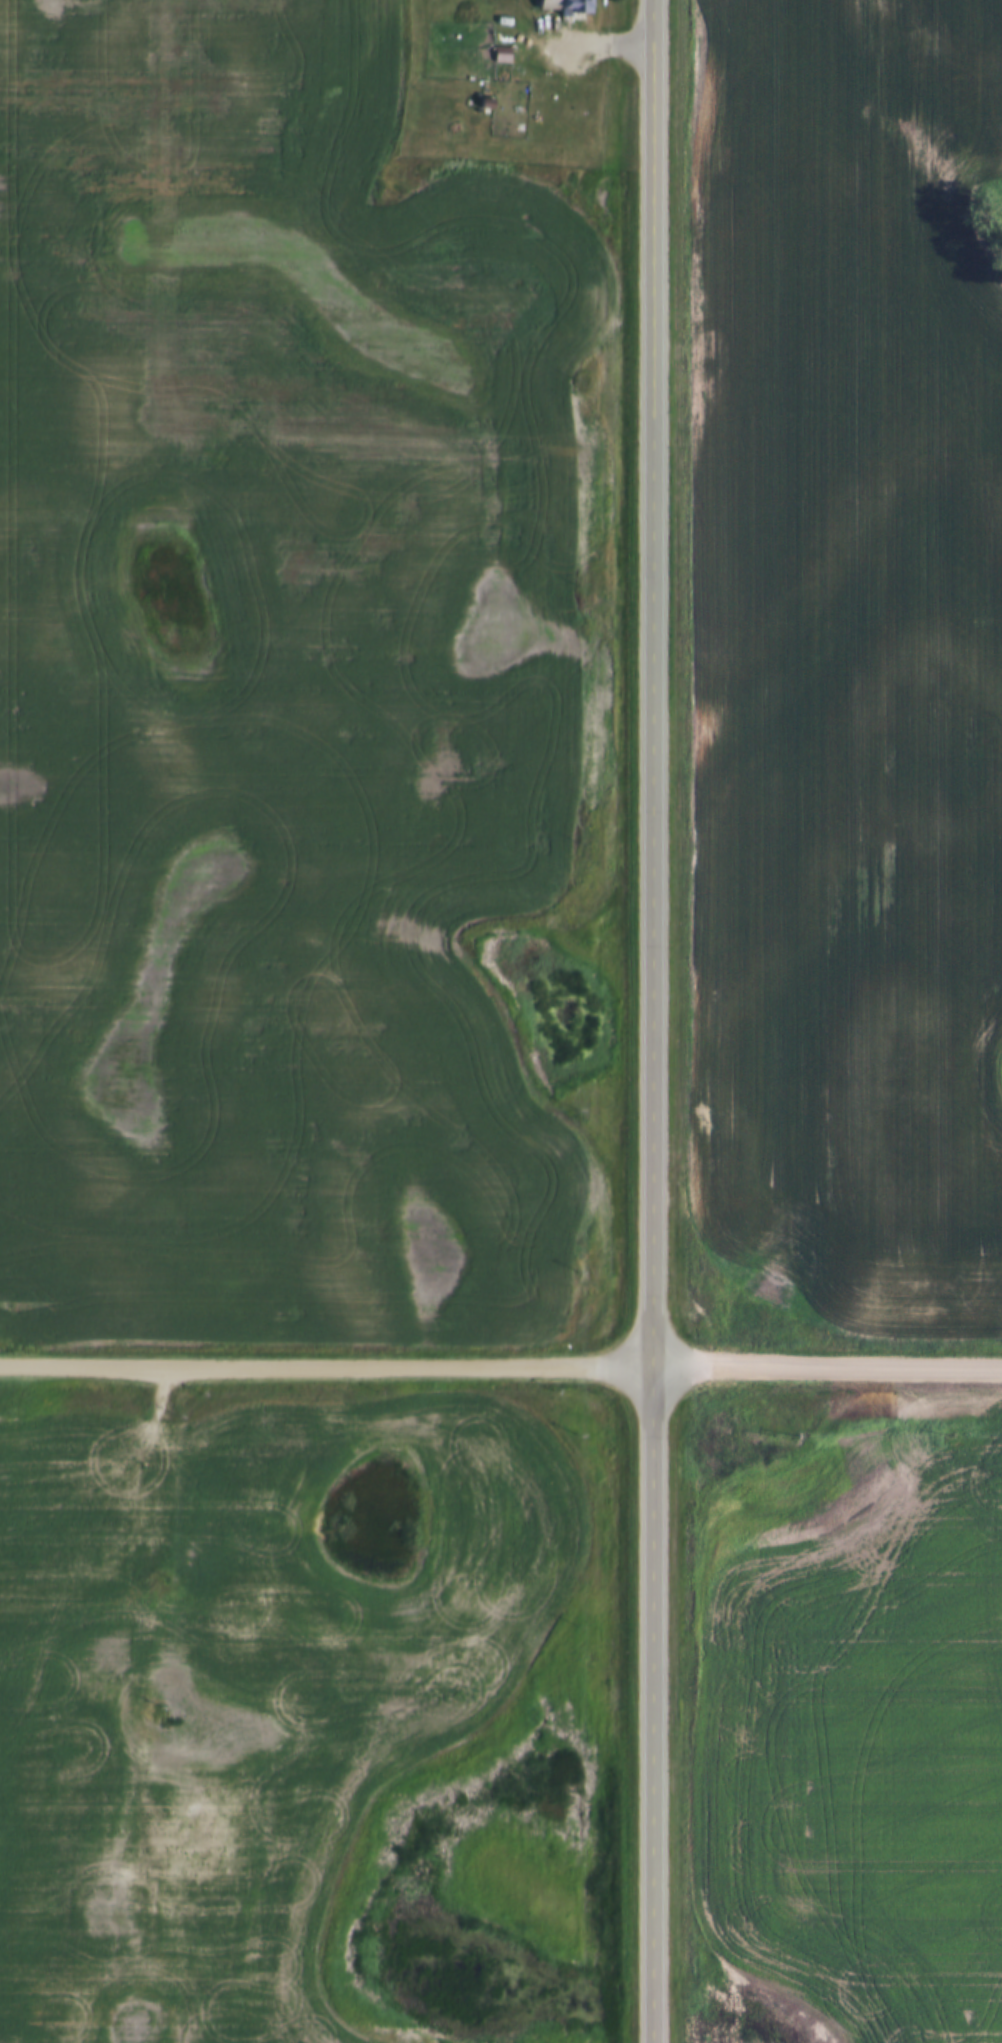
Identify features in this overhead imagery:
building: (567, 1)
building: (493, 43)
road: (587, 45)
building: (479, 91)
building: (436, 158)
silo: (436, 158)
building: (451, 159)
silo: (451, 159)
building: (465, 160)
silo: (465, 160)
building: (479, 160)
silo: (479, 160)
building: (492, 160)
silo: (492, 160)
road: (651, 1021)
road: (501, 1367)

